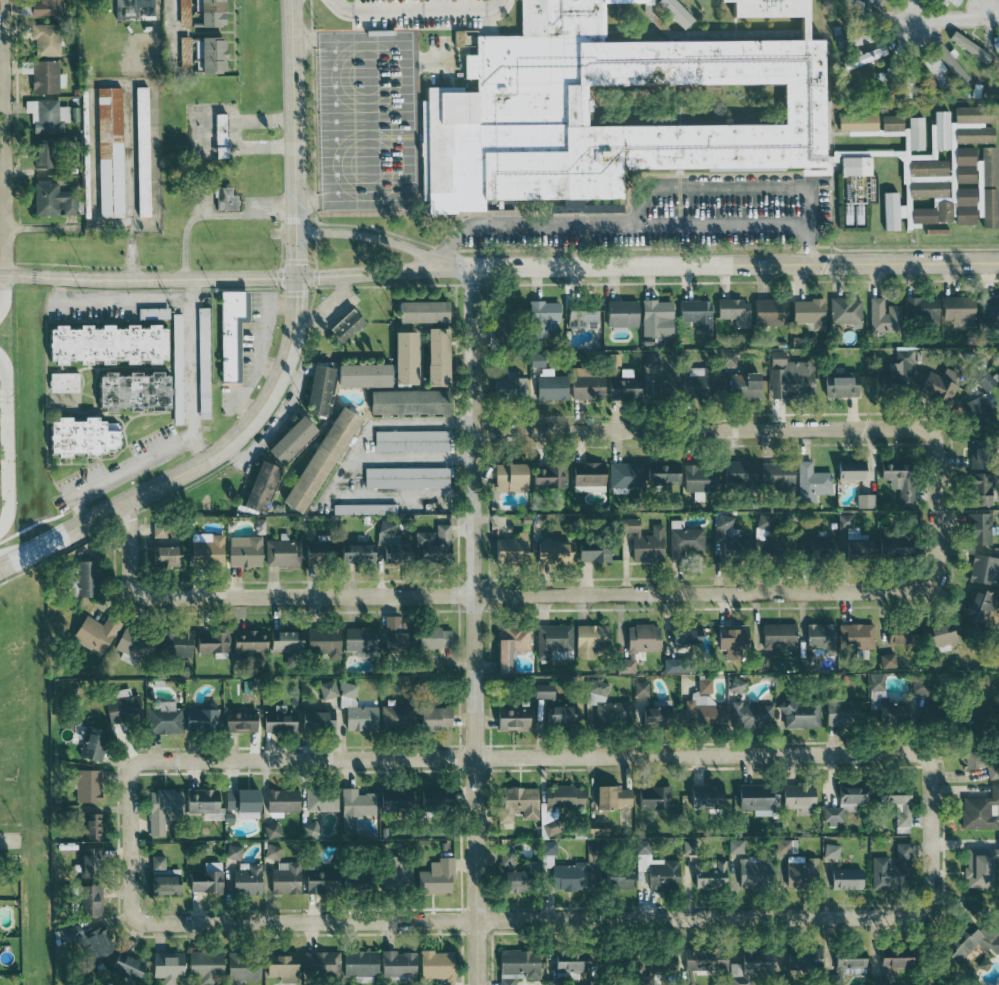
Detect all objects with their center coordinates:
building: (952, 2)
building: (43, 7)
road: (417, 9)
road: (912, 10)
building: (181, 12)
building: (676, 12)
building: (207, 13)
road: (956, 19)
road: (174, 29)
building: (44, 39)
building: (994, 44)
building: (968, 46)
building: (208, 55)
building: (862, 57)
building: (945, 58)
building: (41, 75)
building: (619, 106)
building: (46, 115)
road: (408, 120)
road: (334, 121)
road: (369, 121)
building: (855, 122)
building: (889, 123)
building: (914, 133)
building: (217, 135)
building: (960, 136)
road: (3, 137)
building: (139, 151)
building: (108, 152)
building: (41, 154)
building: (853, 166)
building: (985, 166)
building: (925, 167)
road: (125, 177)
road: (708, 187)
building: (51, 199)
building: (223, 199)
building: (939, 202)
building: (962, 205)
building: (987, 208)
building: (889, 211)
road: (214, 216)
road: (613, 224)
road: (807, 225)
road: (44, 226)
road: (127, 228)
road: (372, 237)
road: (129, 256)
road: (499, 266)
traffic signals: (297, 277)
road: (3, 291)
road: (114, 298)
building: (989, 307)
building: (843, 309)
building: (919, 309)
building: (418, 310)
building: (732, 310)
building: (956, 310)
building: (767, 311)
building: (152, 312)
building: (618, 312)
building: (807, 312)
building: (694, 313)
building: (579, 315)
building: (882, 315)
building: (539, 316)
building: (654, 317)
building: (343, 325)
building: (228, 331)
building: (102, 342)
building: (175, 347)
building: (433, 355)
road: (192, 356)
building: (401, 356)
building: (612, 358)
building: (201, 361)
road: (285, 361)
building: (650, 365)
building: (896, 371)
building: (359, 374)
building: (788, 375)
building: (983, 379)
building: (697, 380)
building: (62, 381)
building: (667, 382)
building: (584, 383)
building: (548, 384)
building: (741, 384)
building: (513, 385)
building: (838, 385)
building: (933, 386)
building: (315, 388)
building: (618, 388)
building: (128, 390)
building: (403, 401)
building: (974, 410)
road: (741, 428)
building: (79, 436)
building: (287, 438)
building: (409, 439)
road: (5, 445)
building: (974, 455)
building: (316, 458)
road: (414, 458)
road: (129, 466)
road: (351, 468)
building: (848, 469)
building: (737, 471)
building: (641, 473)
building: (774, 474)
building: (546, 475)
building: (404, 476)
building: (505, 476)
building: (585, 476)
building: (697, 479)
building: (896, 479)
building: (810, 481)
building: (256, 485)
building: (977, 488)
building: (863, 500)
building: (362, 508)
building: (843, 520)
building: (977, 527)
building: (157, 530)
building: (727, 536)
building: (683, 538)
building: (643, 540)
building: (813, 542)
building: (388, 543)
building: (432, 543)
building: (890, 544)
building: (508, 547)
building: (204, 548)
building: (322, 549)
building: (591, 549)
building: (241, 550)
building: (281, 552)
building: (352, 552)
building: (549, 552)
building: (164, 554)
building: (983, 569)
building: (80, 577)
road: (526, 593)
building: (973, 607)
road: (474, 626)
building: (92, 632)
building: (897, 633)
building: (392, 634)
building: (776, 635)
building: (854, 635)
building: (936, 635)
building: (685, 636)
building: (430, 637)
building: (639, 637)
building: (817, 637)
building: (357, 639)
building: (587, 639)
building: (283, 640)
building: (321, 640)
building: (729, 640)
building: (553, 642)
building: (173, 643)
building: (229, 643)
building: (129, 644)
building: (508, 645)
building: (886, 660)
building: (623, 665)
building: (668, 665)
building: (874, 681)
building: (915, 685)
building: (702, 686)
building: (326, 688)
building: (639, 688)
building: (542, 691)
park: (9, 704)
building: (120, 705)
building: (605, 705)
building: (354, 709)
building: (700, 711)
building: (840, 711)
building: (887, 713)
building: (555, 714)
building: (652, 714)
building: (799, 714)
building: (749, 715)
building: (509, 716)
building: (394, 717)
building: (432, 717)
building: (177, 718)
building: (314, 718)
building: (276, 719)
building: (236, 720)
building: (89, 743)
road: (530, 755)
building: (972, 756)
building: (84, 784)
building: (849, 794)
building: (702, 795)
building: (609, 796)
building: (794, 796)
building: (434, 797)
building: (751, 797)
building: (319, 798)
building: (652, 798)
building: (238, 799)
building: (280, 800)
building: (198, 801)
building: (894, 802)
building: (515, 803)
building: (370, 804)
building: (160, 808)
building: (978, 809)
building: (830, 815)
building: (86, 824)
building: (595, 828)
building: (269, 830)
road: (9, 840)
building: (782, 845)
building: (734, 846)
building: (828, 850)
building: (231, 851)
building: (87, 853)
building: (504, 858)
building: (155, 862)
building: (978, 864)
building: (655, 867)
building: (560, 869)
building: (799, 869)
building: (891, 869)
building: (393, 871)
building: (752, 872)
building: (706, 874)
building: (434, 876)
building: (244, 878)
building: (283, 878)
building: (615, 878)
building: (843, 878)
building: (203, 879)
building: (315, 880)
building: (509, 881)
building: (352, 882)
building: (162, 884)
building: (84, 900)
road: (527, 920)
building: (967, 940)
building: (83, 941)
building: (803, 958)
building: (566, 960)
building: (701, 960)
building: (890, 960)
building: (320, 962)
building: (517, 962)
building: (663, 962)
building: (357, 963)
building: (395, 963)
building: (624, 963)
building: (434, 964)
building: (123, 965)
building: (748, 965)
building: (843, 965)
building: (202, 966)
building: (278, 966)
building: (163, 967)
building: (240, 968)
building: (504, 981)
building: (685, 982)
building: (445, 984)

